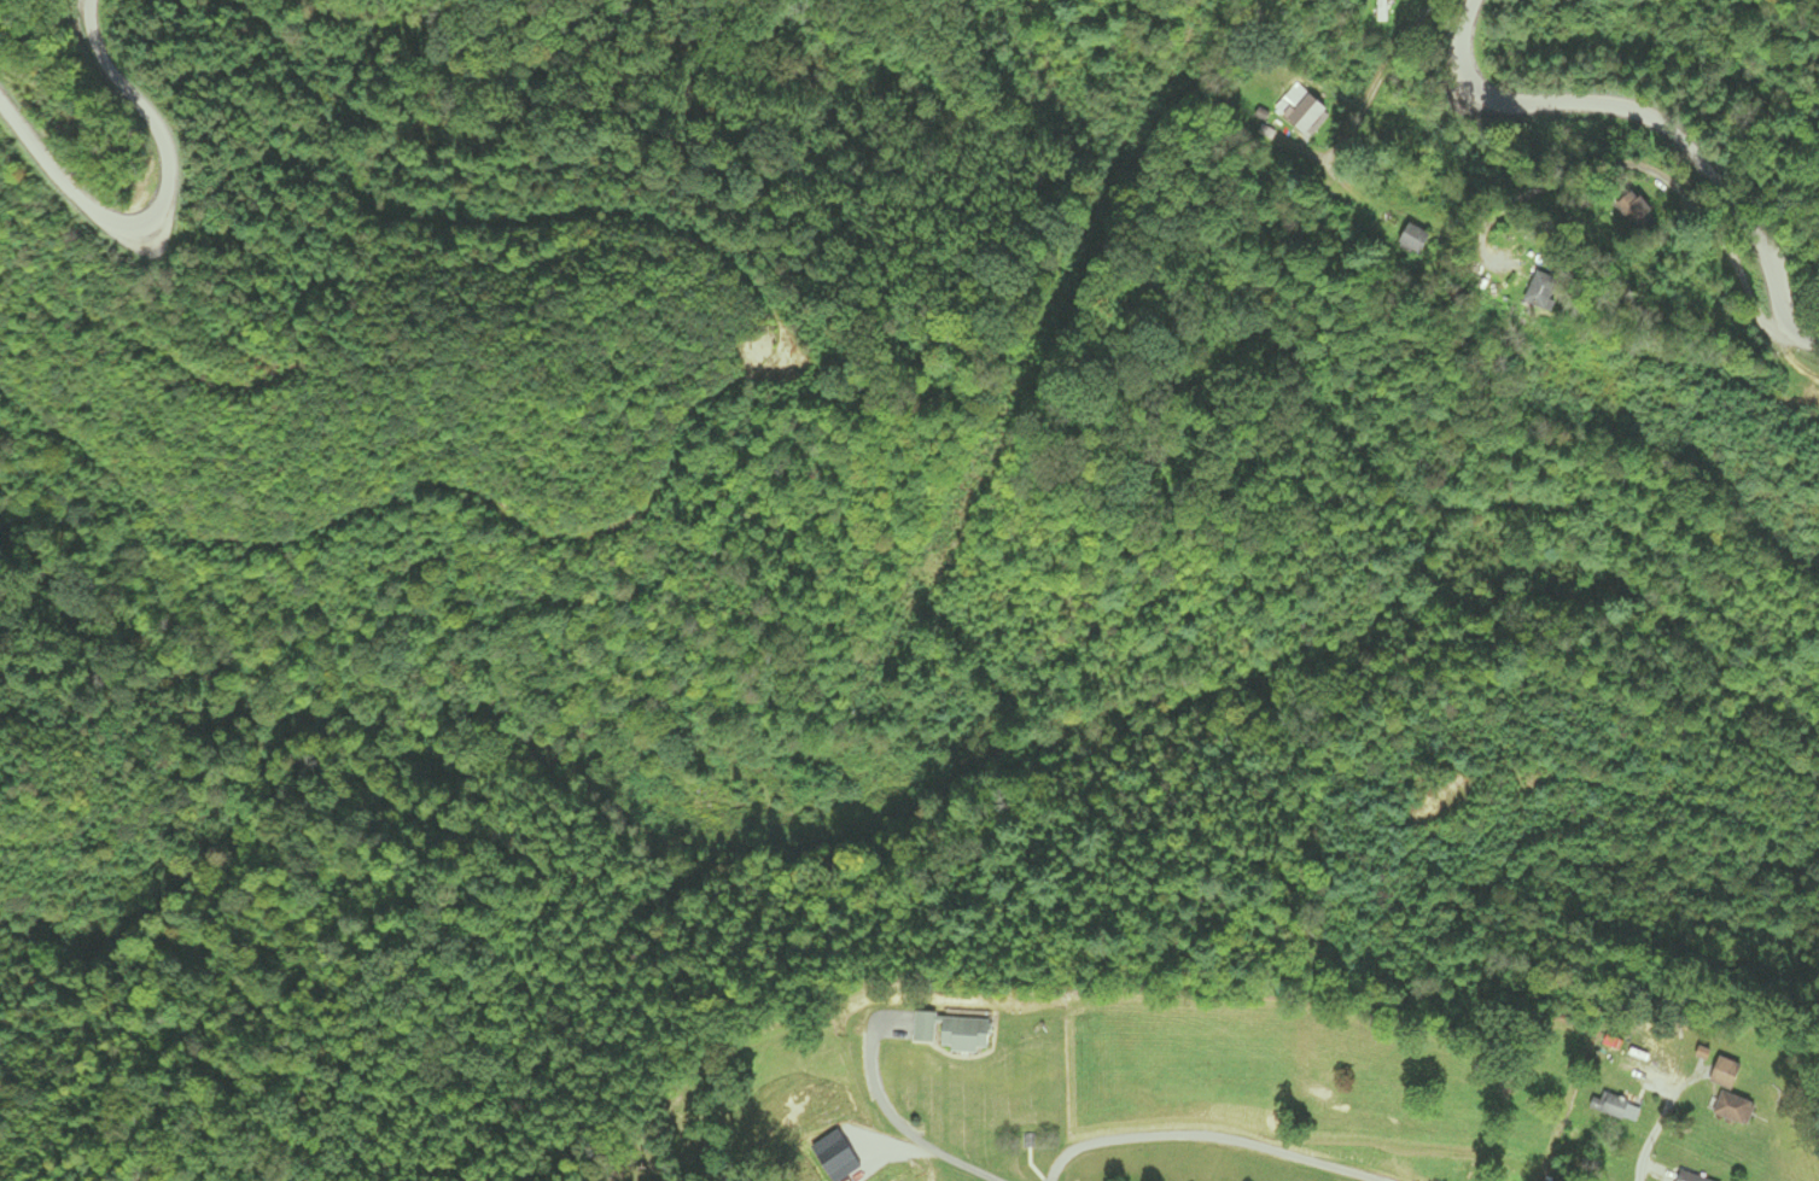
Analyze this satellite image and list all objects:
building: (1380, 11)
road: (1392, 62)
building: (1300, 113)
road: (1658, 124)
road: (1654, 181)
building: (1631, 211)
building: (1412, 240)
building: (1533, 294)
road: (1438, 594)
building: (948, 1031)
building: (1721, 1074)
crop: (1203, 1093)
building: (1611, 1106)
building: (1730, 1109)
road: (890, 1118)
road: (1660, 1124)
road: (1205, 1139)
crop: (925, 1175)
building: (1685, 1176)

